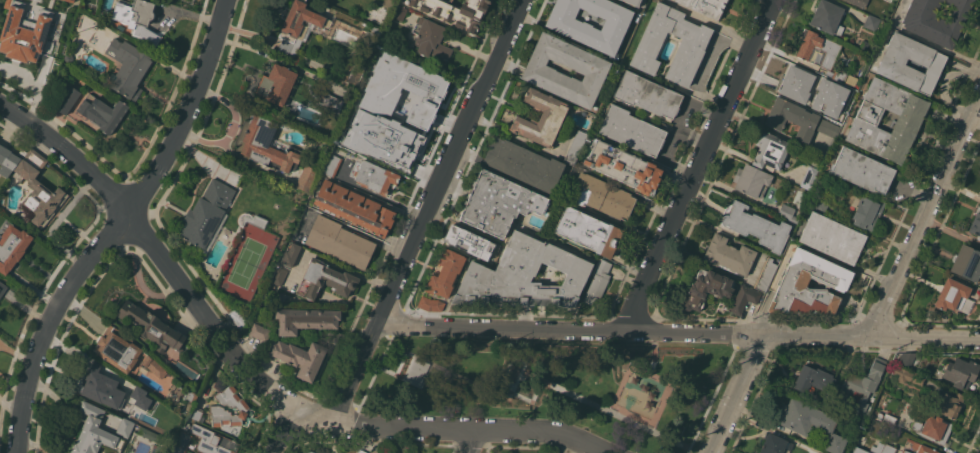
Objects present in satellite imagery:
building: (71, 0)
building: (632, 2)
building: (856, 2)
building: (706, 6)
building: (455, 11)
building: (399, 12)
building: (827, 17)
building: (70, 19)
building: (138, 19)
building: (936, 20)
road: (711, 21)
building: (871, 23)
building: (298, 27)
building: (573, 28)
building: (16, 33)
building: (371, 35)
building: (431, 39)
building: (690, 45)
building: (864, 46)
building: (818, 49)
building: (68, 55)
road: (789, 55)
road: (280, 58)
building: (930, 60)
building: (49, 67)
building: (127, 68)
building: (352, 70)
building: (541, 72)
building: (839, 75)
building: (798, 83)
building: (276, 84)
building: (426, 88)
building: (842, 89)
building: (647, 94)
building: (66, 99)
building: (329, 101)
building: (102, 113)
building: (541, 118)
building: (792, 118)
building: (908, 120)
building: (827, 127)
road: (676, 128)
building: (631, 130)
road: (695, 133)
building: (263, 144)
building: (575, 146)
building: (771, 151)
building: (22, 152)
building: (7, 160)
building: (331, 164)
building: (523, 164)
road: (701, 165)
building: (623, 166)
building: (862, 170)
building: (811, 175)
building: (375, 177)
building: (306, 178)
building: (751, 180)
building: (38, 190)
building: (601, 196)
road: (119, 202)
building: (498, 203)
building: (821, 203)
building: (353, 208)
building: (867, 211)
road: (430, 212)
building: (206, 213)
building: (788, 213)
road: (923, 214)
building: (251, 219)
building: (976, 223)
building: (755, 226)
road: (119, 227)
building: (587, 230)
building: (832, 237)
building: (340, 241)
building: (468, 241)
building: (13, 248)
building: (291, 254)
building: (728, 254)
building: (967, 263)
building: (445, 272)
building: (765, 274)
building: (523, 275)
building: (279, 276)
building: (324, 279)
building: (598, 281)
building: (792, 281)
building: (2, 288)
building: (706, 288)
building: (954, 296)
building: (744, 298)
building: (430, 303)
building: (305, 319)
building: (151, 326)
building: (260, 331)
road: (679, 332)
building: (118, 349)
building: (298, 357)
building: (906, 359)
building: (154, 366)
road: (655, 366)
building: (414, 370)
building: (960, 372)
building: (515, 374)
road: (653, 374)
road: (519, 375)
building: (907, 375)
building: (815, 381)
park: (562, 385)
building: (862, 385)
building: (100, 386)
building: (138, 393)
building: (175, 393)
road: (739, 394)
building: (189, 396)
building: (825, 401)
building: (946, 403)
building: (242, 406)
building: (196, 415)
building: (878, 415)
building: (888, 419)
building: (809, 422)
building: (125, 427)
road: (407, 427)
building: (933, 428)
road: (280, 432)
building: (95, 434)
building: (149, 435)
building: (184, 440)
building: (213, 441)
road: (473, 441)
building: (775, 444)
building: (920, 447)
building: (882, 448)
building: (179, 450)
building: (858, 450)
building: (362, 451)
building: (906, 451)
building: (311, 452)
building: (336, 452)
building: (405, 452)
building: (415, 452)

